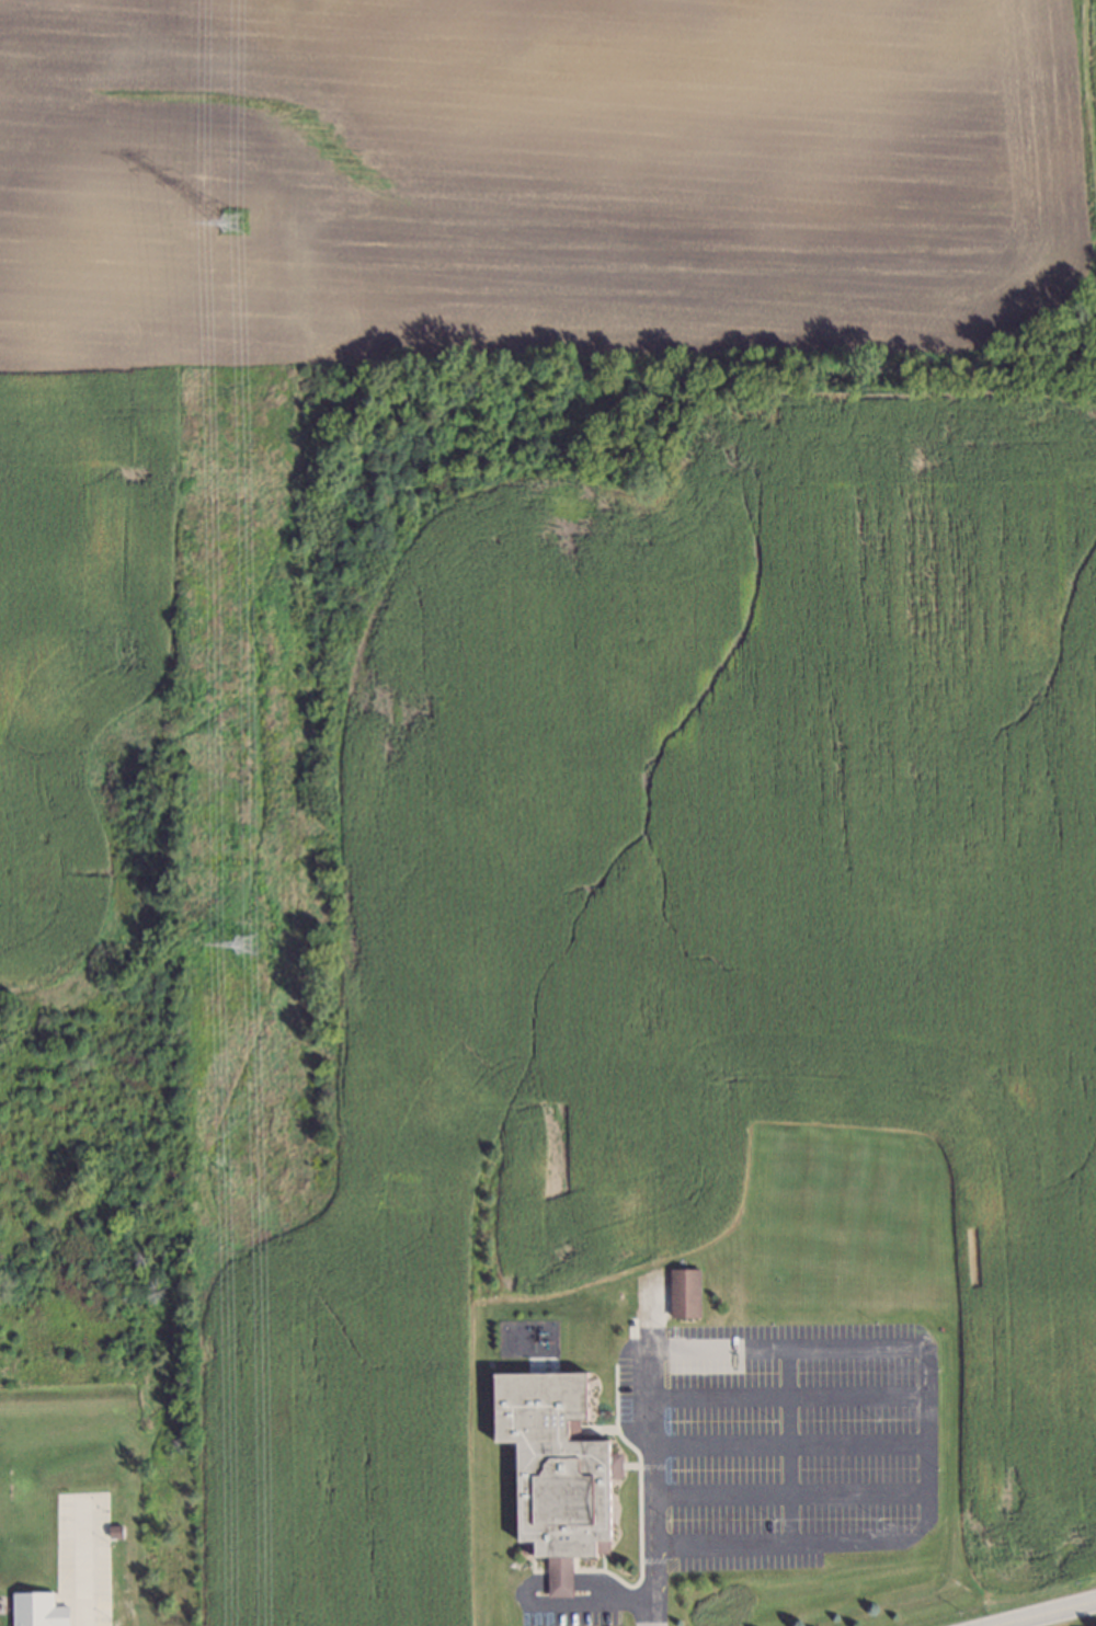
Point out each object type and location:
power tower: (237, 224)
power tower: (249, 934)
building: (682, 1290)
road: (914, 1346)
road: (783, 1395)
road: (784, 1442)
building: (553, 1469)
road: (785, 1495)
road: (558, 1580)
road: (591, 1580)
road: (648, 1585)
road: (79, 1603)
building: (31, 1606)
road: (570, 1606)
road: (1046, 1614)

